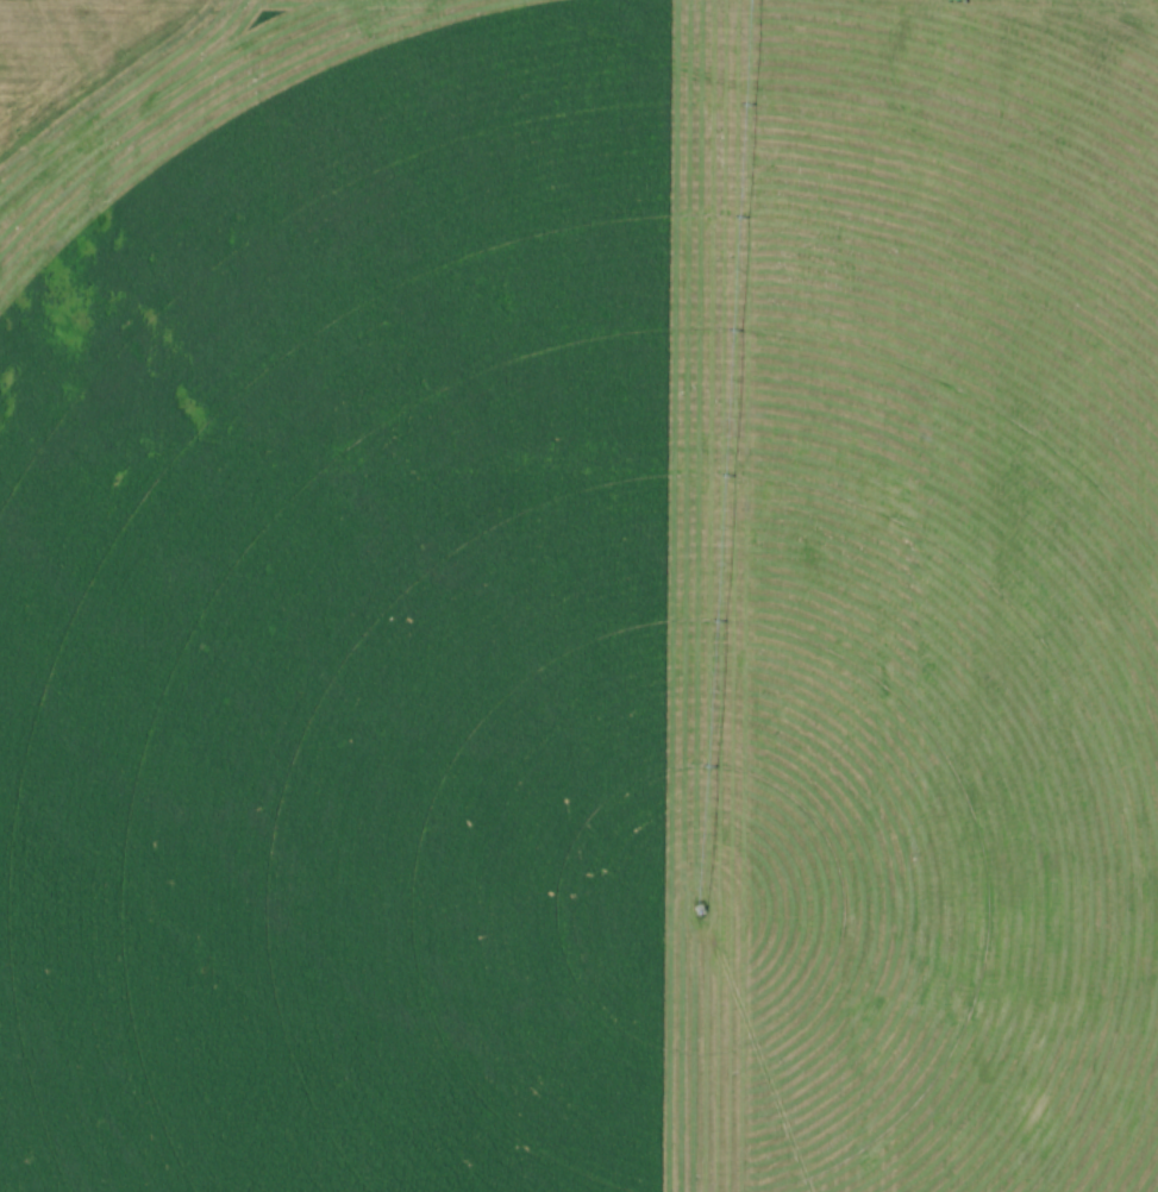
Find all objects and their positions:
crop: (583, 601)

